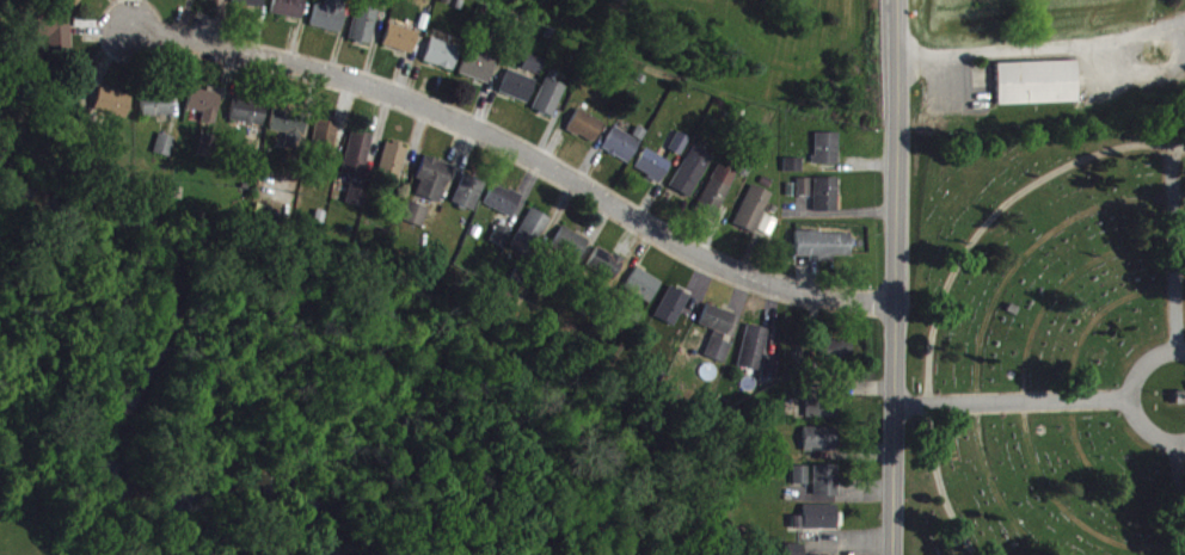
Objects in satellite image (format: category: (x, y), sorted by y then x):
building: (215, 1)
building: (74, 5)
building: (250, 8)
building: (290, 13)
building: (330, 21)
building: (363, 35)
road: (1040, 43)
building: (59, 45)
building: (401, 45)
building: (442, 63)
building: (533, 73)
building: (477, 76)
building: (1033, 80)
building: (517, 95)
building: (549, 106)
building: (113, 112)
building: (205, 112)
building: (158, 115)
building: (248, 122)
building: (290, 136)
building: (585, 136)
building: (325, 143)
building: (621, 154)
building: (680, 154)
building: (165, 155)
building: (207, 155)
building: (827, 158)
road: (502, 159)
building: (357, 164)
building: (393, 171)
building: (794, 174)
building: (652, 175)
building: (692, 181)
building: (434, 189)
building: (804, 197)
building: (717, 199)
building: (469, 202)
building: (357, 204)
building: (828, 204)
building: (503, 210)
building: (754, 218)
building: (415, 223)
building: (530, 241)
building: (571, 253)
building: (824, 255)
building: (606, 273)
road: (895, 277)
road: (946, 278)
building: (643, 295)
building: (671, 316)
park: (1051, 333)
building: (718, 343)
building: (754, 358)
building: (836, 360)
road: (1147, 365)
building: (770, 378)
road: (1013, 405)
building: (823, 414)
road: (1152, 431)
building: (821, 449)
building: (802, 485)
building: (827, 491)
road: (1181, 499)
building: (817, 528)
building: (798, 554)

